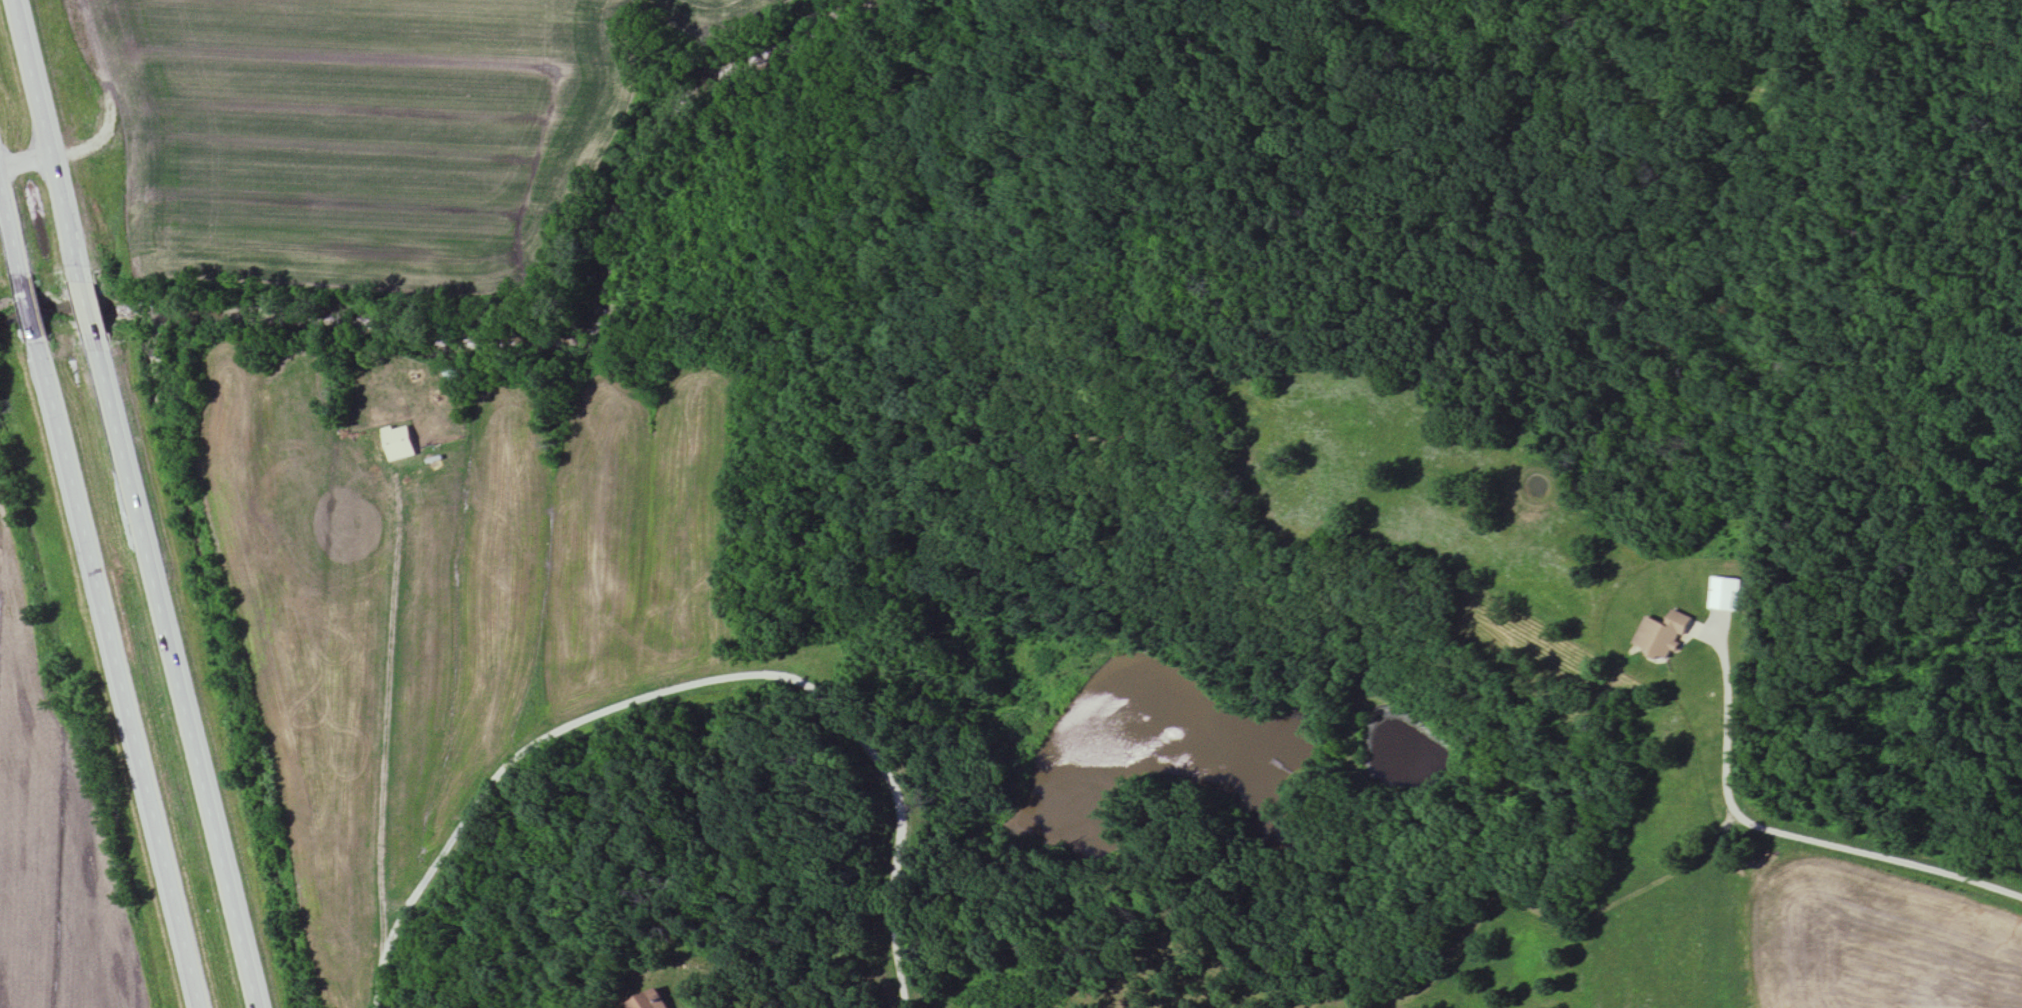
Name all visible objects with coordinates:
crop: (678, 1)
crop: (347, 130)
road: (54, 136)
road: (29, 162)
road: (15, 204)
road: (41, 306)
road: (98, 309)
river: (91, 313)
building: (400, 445)
building: (1725, 596)
building: (1663, 637)
road: (129, 675)
road: (186, 677)
road: (388, 710)
road: (888, 782)
road: (497, 795)
road: (1786, 833)
crop: (51, 839)
building: (650, 1000)

